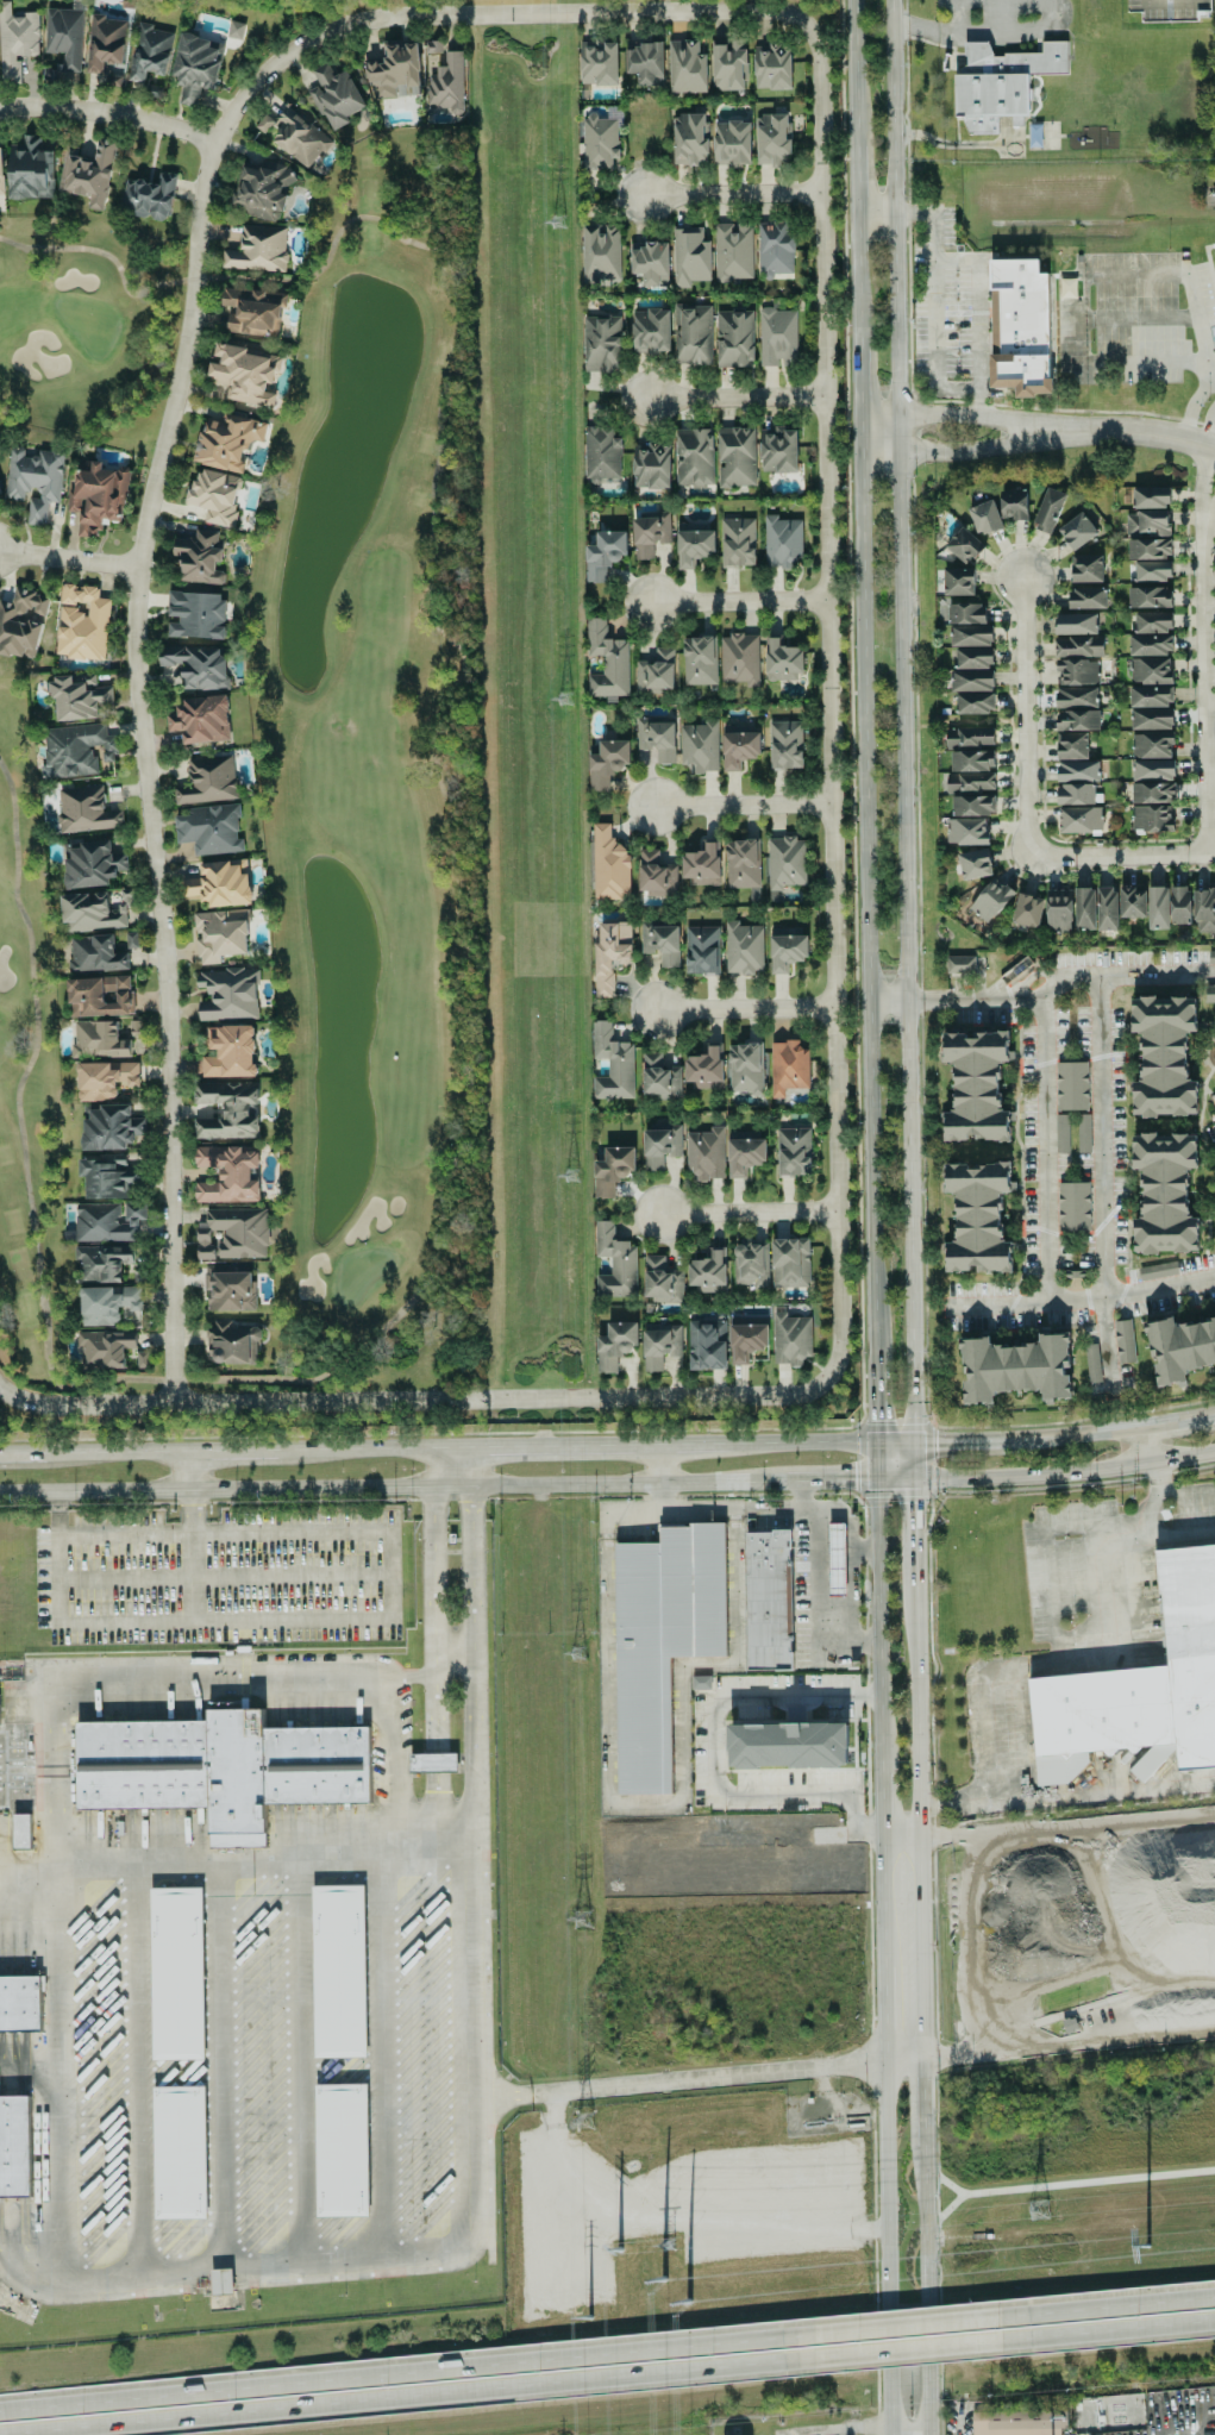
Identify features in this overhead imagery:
building: (1163, 10)
road: (486, 14)
parking lot: (1004, 20)
building: (234, 30)
road: (960, 30)
building: (64, 36)
building: (15, 40)
building: (107, 48)
building: (150, 51)
building: (599, 63)
building: (645, 63)
building: (196, 65)
building: (728, 65)
building: (772, 65)
building: (685, 67)
building: (420, 74)
building: (1003, 82)
building: (334, 95)
road: (108, 112)
building: (295, 136)
building: (772, 138)
building: (690, 139)
building: (600, 143)
building: (732, 143)
building: (31, 170)
building: (1, 174)
building: (92, 175)
building: (263, 190)
road: (731, 195)
building: (149, 196)
power tower: (556, 224)
building: (258, 249)
building: (774, 249)
building: (601, 251)
building: (733, 251)
building: (690, 255)
building: (650, 263)
road: (935, 299)
road: (976, 303)
building: (252, 311)
building: (1020, 326)
road: (1196, 327)
building: (651, 331)
building: (695, 334)
building: (734, 337)
building: (777, 337)
building: (601, 343)
building: (243, 373)
road: (729, 400)
road: (1200, 412)
road: (948, 413)
road: (1127, 436)
building: (227, 442)
road: (948, 450)
building: (778, 451)
building: (602, 453)
building: (735, 456)
building: (694, 457)
building: (651, 467)
building: (35, 480)
road: (1198, 480)
building: (0, 493)
building: (215, 495)
building: (1151, 496)
building: (98, 497)
building: (1014, 505)
road: (1207, 507)
building: (1048, 509)
building: (985, 518)
building: (1147, 522)
building: (1077, 531)
building: (650, 533)
building: (782, 540)
building: (738, 542)
building: (695, 544)
building: (964, 545)
building: (1150, 549)
building: (605, 553)
building: (199, 558)
road: (64, 559)
building: (1086, 568)
building: (1148, 570)
building: (958, 581)
building: (1150, 596)
building: (1086, 597)
road: (733, 601)
building: (966, 613)
building: (196, 614)
building: (1152, 621)
building: (21, 622)
building: (82, 622)
building: (1076, 624)
building: (971, 636)
building: (1150, 644)
building: (1078, 646)
building: (739, 658)
building: (973, 658)
building: (700, 659)
building: (783, 659)
building: (607, 661)
building: (195, 666)
building: (1150, 670)
building: (656, 671)
building: (1077, 671)
building: (971, 680)
road: (1201, 683)
road: (864, 684)
building: (1151, 695)
building: (77, 696)
building: (1076, 697)
power tower: (564, 701)
building: (975, 702)
road: (829, 703)
road: (1022, 711)
building: (1152, 718)
building: (201, 719)
road: (900, 720)
building: (1077, 720)
building: (970, 737)
building: (657, 739)
building: (785, 744)
building: (1152, 744)
building: (739, 745)
building: (1071, 745)
building: (699, 746)
building: (75, 750)
building: (972, 760)
building: (607, 763)
road: (139, 764)
building: (1153, 769)
building: (1077, 771)
park: (302, 774)
building: (208, 781)
building: (970, 782)
building: (1153, 791)
building: (1075, 794)
building: (973, 805)
road: (734, 807)
building: (86, 809)
building: (1152, 818)
building: (1079, 819)
building: (209, 830)
building: (966, 831)
road: (1123, 856)
building: (785, 862)
building: (743, 863)
building: (973, 863)
building: (93, 864)
building: (702, 864)
building: (609, 865)
building: (656, 875)
building: (219, 883)
building: (991, 900)
building: (1132, 902)
building: (1180, 904)
building: (1158, 907)
building: (1084, 908)
building: (1107, 908)
building: (1027, 909)
building: (1204, 909)
building: (95, 910)
building: (1059, 910)
building: (220, 934)
building: (662, 943)
building: (743, 947)
building: (787, 947)
building: (701, 950)
building: (96, 954)
building: (612, 954)
building: (1211, 957)
building: (962, 964)
road: (1033, 975)
road: (1079, 975)
building: (1209, 993)
building: (228, 994)
building: (100, 995)
road: (908, 997)
road: (735, 1007)
building: (99, 1039)
building: (230, 1051)
building: (1164, 1056)
building: (613, 1063)
building: (788, 1066)
building: (745, 1068)
building: (706, 1069)
building: (659, 1077)
building: (105, 1078)
building: (977, 1085)
building: (1072, 1085)
building: (227, 1110)
building: (111, 1128)
building: (1083, 1132)
building: (1061, 1133)
road: (1103, 1135)
building: (662, 1145)
building: (794, 1151)
building: (706, 1153)
building: (745, 1153)
building: (613, 1170)
building: (227, 1172)
building: (107, 1176)
power tower: (571, 1181)
building: (1165, 1193)
building: (1073, 1206)
road: (749, 1213)
building: (978, 1216)
building: (108, 1221)
road: (1044, 1231)
building: (233, 1233)
building: (102, 1263)
building: (615, 1263)
building: (790, 1263)
building: (751, 1264)
building: (1158, 1270)
building: (708, 1271)
building: (662, 1281)
building: (231, 1290)
road: (998, 1298)
building: (107, 1303)
building: (747, 1337)
building: (790, 1338)
building: (1123, 1341)
building: (232, 1342)
building: (660, 1344)
road: (1106, 1344)
building: (615, 1345)
building: (707, 1345)
building: (1180, 1347)
building: (105, 1348)
building: (1092, 1363)
building: (1015, 1367)
road: (407, 1401)
road: (875, 1406)
road: (1180, 1414)
road: (1072, 1431)
road: (956, 1439)
road: (803, 1441)
traffic signals: (876, 1441)
road: (895, 1441)
traffic signals: (914, 1441)
road: (1150, 1441)
road: (597, 1444)
road: (371, 1447)
road: (232, 1448)
road: (117, 1451)
road: (23, 1453)
road: (1183, 1457)
road: (876, 1459)
road: (914, 1460)
road: (657, 1464)
road: (466, 1466)
road: (188, 1469)
road: (1033, 1473)
traffic signals: (876, 1478)
road: (895, 1479)
traffic signals: (914, 1481)
road: (671, 1483)
road: (328, 1488)
road: (94, 1490)
road: (1169, 1492)
road: (657, 1498)
road: (715, 1511)
road: (847, 1523)
road: (914, 1523)
road: (124, 1533)
road: (192, 1555)
road: (57, 1559)
building: (835, 1559)
road: (221, 1576)
road: (848, 1597)
building: (766, 1600)
road: (815, 1608)
road: (363, 1620)
road: (877, 1625)
building: (662, 1640)
road: (450, 1645)
power tower: (578, 1653)
road: (468, 1671)
building: (701, 1682)
building: (1140, 1689)
road: (982, 1703)
building: (789, 1744)
road: (55, 1745)
building: (432, 1761)
road: (714, 1767)
building: (220, 1769)
road: (879, 1808)
road: (917, 1813)
building: (20, 1830)
road: (900, 1845)
road: (427, 1855)
road: (881, 1905)
power tower: (582, 1917)
building: (338, 1971)
building: (175, 1973)
building: (20, 2003)
road: (882, 2011)
road: (465, 2051)
road: (381, 2055)
road: (902, 2058)
road: (301, 2059)
road: (223, 2064)
road: (136, 2067)
road: (674, 2078)
road: (922, 2102)
power tower: (585, 2121)
building: (14, 2146)
building: (342, 2149)
building: (179, 2152)
road: (1069, 2153)
power tower: (1039, 2211)
power tower: (666, 2243)
power tower: (1144, 2245)
road: (885, 2246)
power tower: (620, 2251)
road: (58, 2274)
road: (925, 2290)
power tower: (676, 2293)
road: (1108, 2299)
power tower: (588, 2318)
road: (908, 2318)
road: (1109, 2334)
road: (909, 2353)
road: (406, 2366)
railway: (791, 2395)
road: (437, 2398)
road: (956, 2420)
building: (1019, 2422)
road: (869, 2425)
road: (820, 2430)

